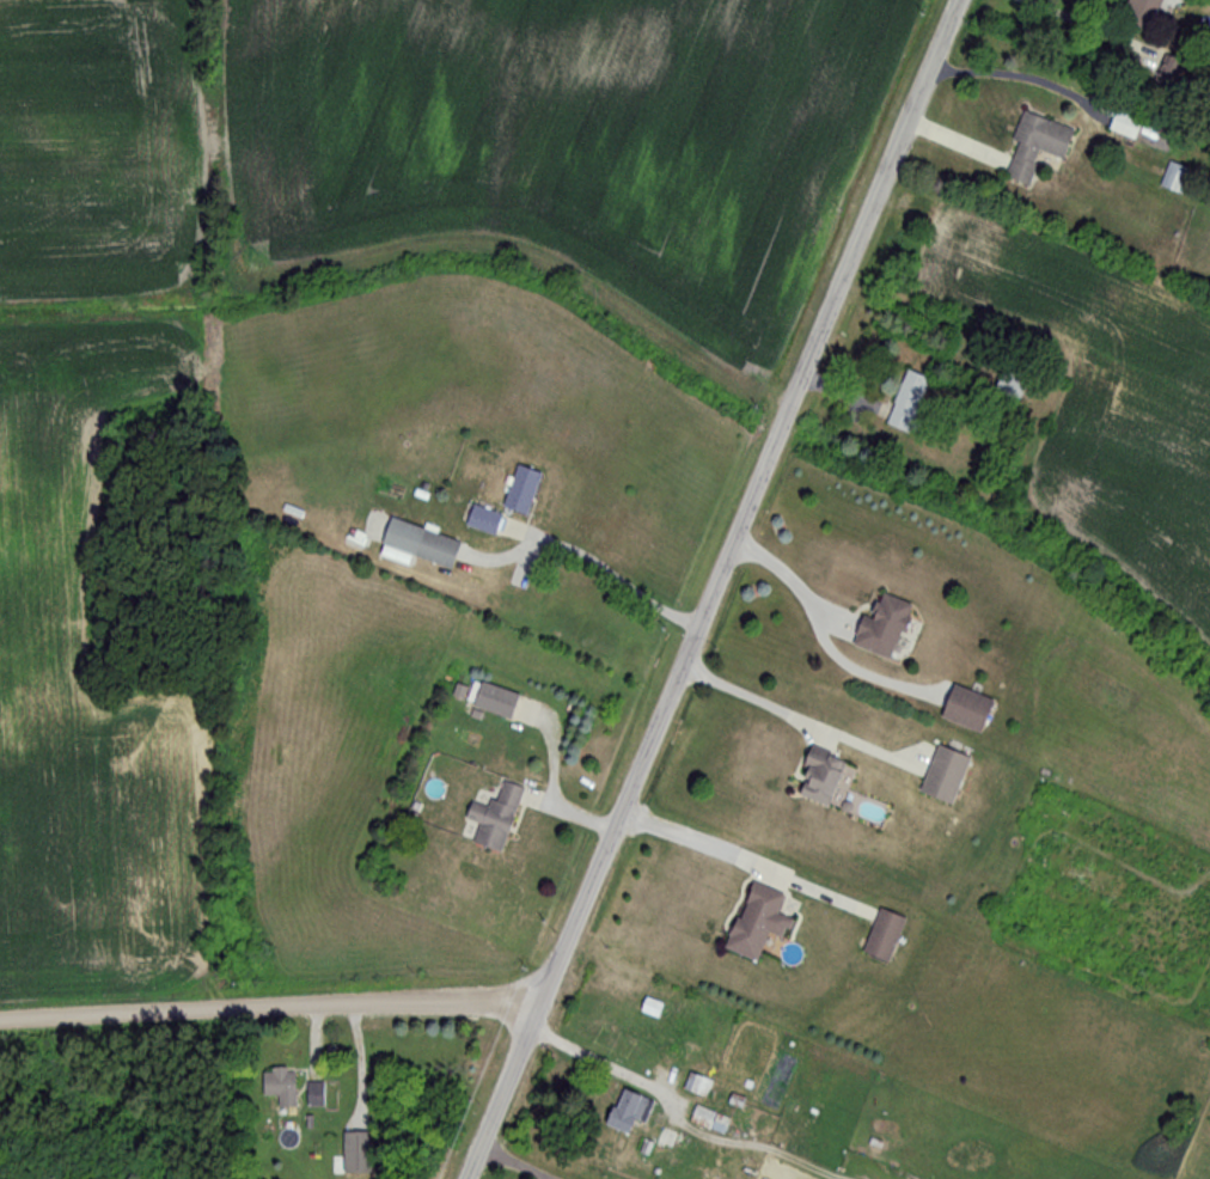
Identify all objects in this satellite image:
building: (1143, 8)
road: (1083, 23)
building: (1168, 73)
building: (1123, 124)
building: (1033, 147)
building: (1173, 178)
crop: (1106, 396)
building: (905, 402)
building: (520, 490)
building: (482, 519)
building: (418, 542)
road: (610, 573)
road: (716, 589)
building: (881, 625)
road: (820, 646)
building: (495, 700)
road: (766, 702)
building: (964, 708)
building: (942, 774)
building: (817, 775)
building: (493, 815)
road: (691, 845)
building: (756, 920)
building: (882, 935)
road: (270, 1007)
building: (648, 1007)
building: (696, 1083)
building: (279, 1086)
building: (313, 1093)
road: (673, 1107)
building: (627, 1111)
building: (708, 1118)
building: (664, 1137)
building: (355, 1153)
road: (502, 1167)

